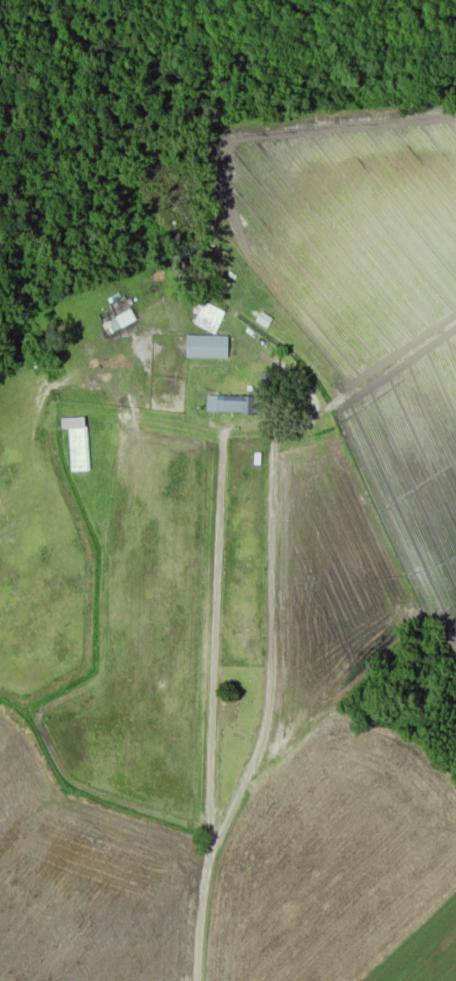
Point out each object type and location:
building: (210, 319)
building: (208, 348)
building: (232, 405)
building: (79, 450)

